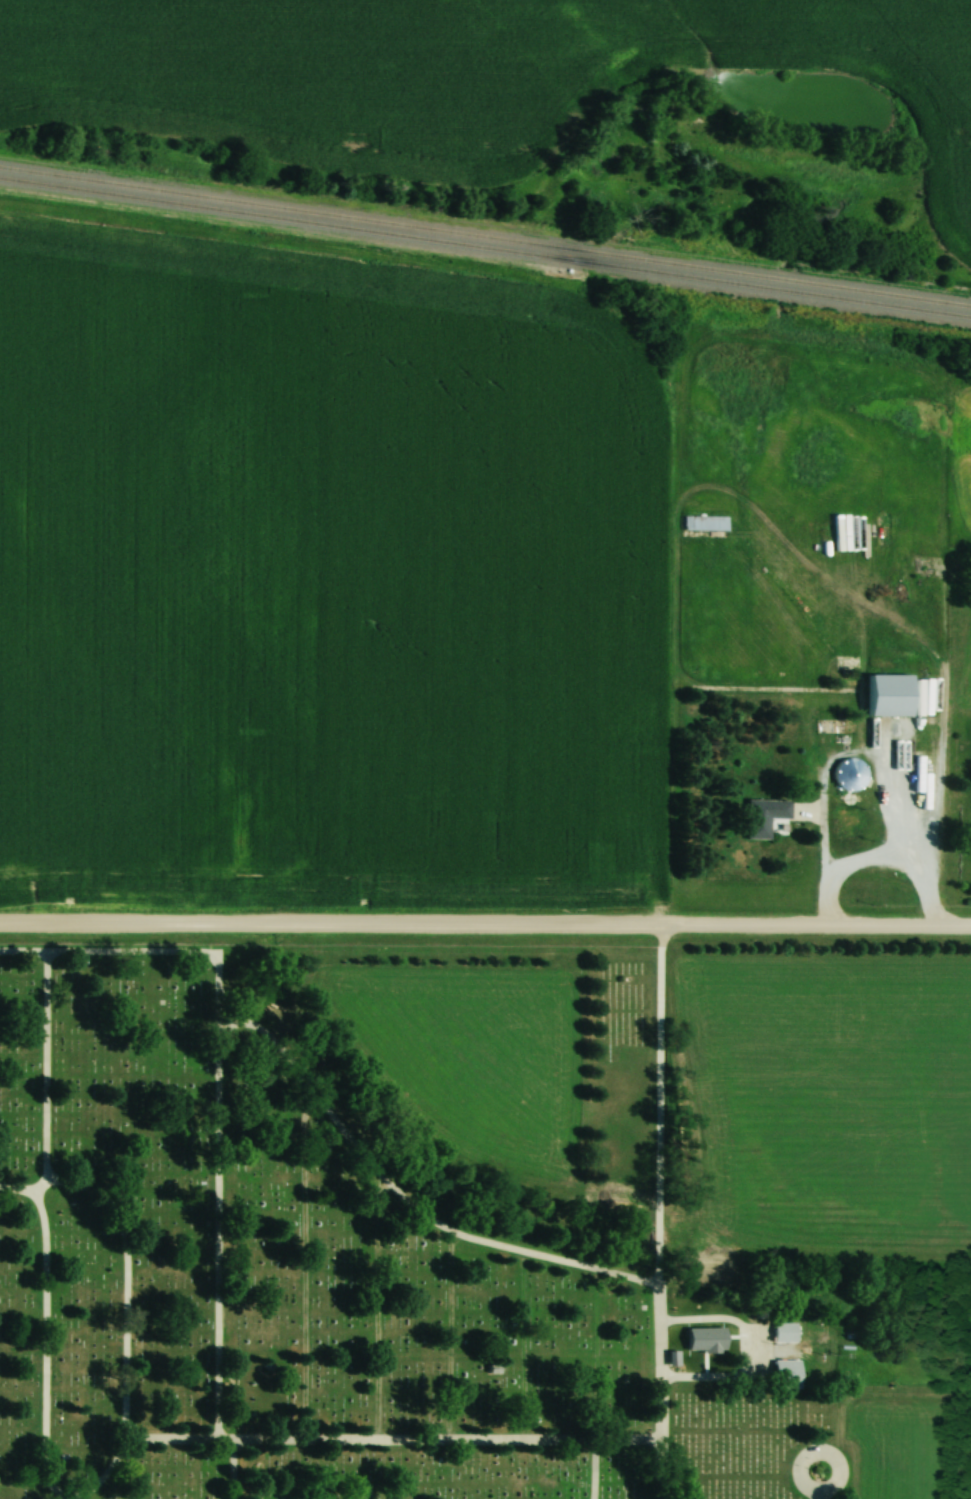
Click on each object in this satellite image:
railway: (485, 237)
railway: (485, 247)
crop: (963, 454)
building: (704, 523)
building: (849, 554)
crop: (327, 575)
crop: (966, 677)
building: (889, 692)
building: (848, 775)
building: (925, 801)
building: (763, 816)
road: (817, 860)
road: (485, 927)
road: (213, 1092)
road: (400, 1200)
road: (653, 1213)
road: (38, 1227)
park: (365, 1240)
road: (120, 1303)
building: (784, 1331)
building: (718, 1336)
building: (785, 1373)
road: (388, 1443)
road: (829, 1456)
road: (228, 1471)
road: (587, 1472)
road: (819, 1495)

